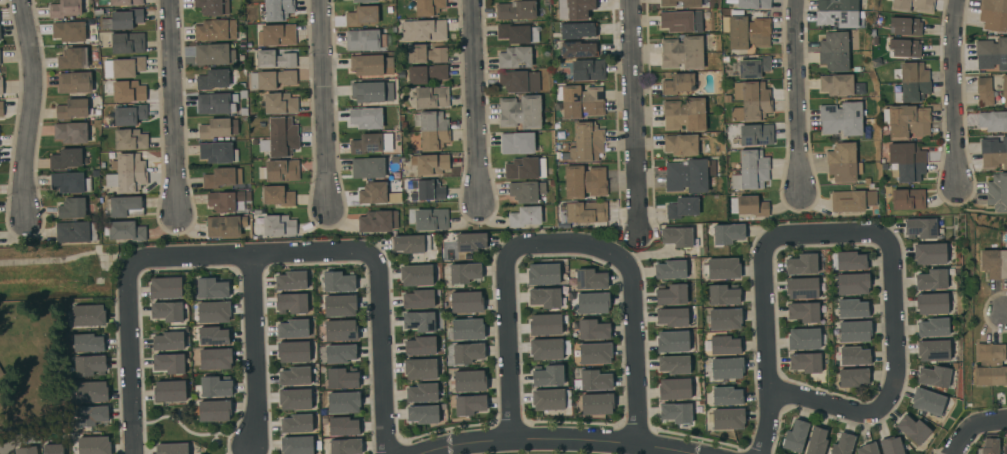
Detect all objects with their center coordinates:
building: (364, 1)
building: (125, 2)
building: (684, 3)
building: (754, 4)
building: (913, 5)
building: (212, 7)
building: (428, 7)
building: (65, 8)
building: (277, 9)
building: (579, 9)
building: (516, 10)
building: (837, 13)
building: (993, 15)
building: (362, 16)
building: (122, 19)
building: (681, 21)
building: (905, 26)
building: (215, 30)
building: (423, 30)
building: (577, 30)
building: (69, 31)
building: (746, 31)
building: (517, 33)
building: (276, 35)
building: (364, 40)
building: (127, 43)
building: (579, 48)
building: (904, 48)
building: (834, 51)
building: (682, 53)
building: (214, 54)
building: (425, 54)
building: (991, 54)
building: (514, 57)
building: (71, 58)
building: (275, 59)
building: (370, 64)
building: (123, 67)
building: (753, 67)
building: (587, 70)
building: (426, 74)
building: (217, 79)
building: (272, 79)
building: (519, 81)
building: (74, 82)
building: (912, 82)
building: (678, 84)
building: (0, 85)
building: (840, 85)
building: (1004, 90)
building: (125, 91)
building: (984, 91)
building: (367, 92)
road: (956, 92)
road: (798, 95)
building: (431, 97)
building: (726, 99)
building: (580, 101)
building: (751, 101)
building: (218, 102)
road: (477, 102)
building: (280, 103)
road: (325, 105)
road: (173, 106)
building: (558, 106)
road: (35, 108)
building: (1, 109)
building: (71, 109)
building: (520, 112)
building: (684, 114)
building: (129, 115)
road: (636, 116)
building: (366, 118)
building: (841, 119)
building: (906, 121)
building: (993, 121)
building: (217, 128)
building: (432, 130)
building: (70, 133)
building: (756, 135)
building: (280, 137)
building: (130, 140)
building: (587, 142)
building: (517, 143)
building: (365, 144)
building: (681, 145)
building: (564, 147)
building: (216, 152)
building: (993, 153)
building: (65, 159)
building: (843, 162)
building: (906, 162)
building: (430, 164)
building: (368, 168)
building: (525, 168)
building: (279, 171)
building: (751, 171)
building: (127, 173)
building: (689, 176)
building: (219, 178)
building: (584, 182)
building: (69, 183)
building: (426, 190)
building: (526, 191)
building: (997, 192)
building: (374, 194)
building: (277, 196)
building: (907, 199)
building: (224, 200)
building: (852, 200)
building: (751, 206)
building: (124, 207)
building: (71, 208)
building: (682, 208)
building: (586, 212)
building: (527, 216)
building: (431, 220)
building: (378, 221)
building: (278, 225)
building: (224, 226)
building: (920, 228)
building: (124, 231)
building: (75, 232)
building: (727, 233)
building: (677, 236)
building: (471, 242)
building: (409, 244)
road: (358, 253)
building: (930, 254)
building: (848, 261)
building: (994, 263)
building: (801, 264)
building: (723, 268)
building: (671, 269)
building: (464, 273)
building: (543, 274)
building: (416, 275)
building: (590, 279)
building: (291, 280)
building: (931, 280)
building: (337, 282)
building: (852, 284)
building: (165, 288)
building: (802, 288)
building: (211, 289)
building: (671, 294)
building: (723, 295)
building: (544, 298)
building: (418, 299)
building: (466, 302)
building: (291, 303)
building: (592, 303)
building: (931, 304)
building: (339, 306)
building: (852, 308)
building: (167, 311)
building: (213, 312)
building: (803, 312)
building: (88, 316)
building: (673, 317)
road: (634, 319)
building: (725, 319)
building: (418, 321)
road: (505, 322)
road: (895, 322)
building: (545, 325)
building: (933, 327)
building: (293, 329)
building: (340, 330)
building: (465, 330)
building: (592, 330)
building: (854, 331)
building: (213, 336)
building: (805, 339)
building: (168, 341)
building: (672, 341)
building: (88, 343)
building: (725, 345)
building: (420, 346)
building: (545, 349)
building: (933, 350)
building: (293, 351)
building: (440, 351)
road: (767, 351)
road: (255, 352)
building: (467, 353)
building: (340, 354)
building: (595, 354)
road: (128, 355)
building: (854, 356)
building: (215, 359)
building: (805, 362)
building: (169, 363)
building: (674, 364)
building: (89, 365)
building: (990, 365)
building: (726, 368)
building: (420, 369)
building: (1, 372)
building: (0, 375)
building: (294, 376)
building: (547, 376)
building: (852, 377)
building: (934, 377)
building: (342, 378)
building: (594, 380)
building: (469, 381)
building: (215, 387)
building: (674, 389)
building: (169, 391)
building: (91, 392)
building: (440, 392)
building: (422, 393)
building: (727, 395)
building: (294, 399)
building: (550, 399)
building: (343, 402)
building: (927, 402)
building: (596, 404)
building: (469, 405)
building: (214, 411)
building: (676, 412)
building: (422, 414)
building: (90, 415)
building: (727, 419)
building: (296, 423)
building: (343, 426)
building: (912, 429)
road: (978, 431)
building: (795, 436)
building: (816, 441)
road: (552, 442)
building: (842, 444)
building: (990, 444)
building: (1005, 444)
building: (93, 445)
building: (296, 445)
building: (345, 446)
building: (891, 446)
building: (171, 448)
building: (53, 449)
building: (867, 449)
building: (26, 450)
road: (253, 450)

